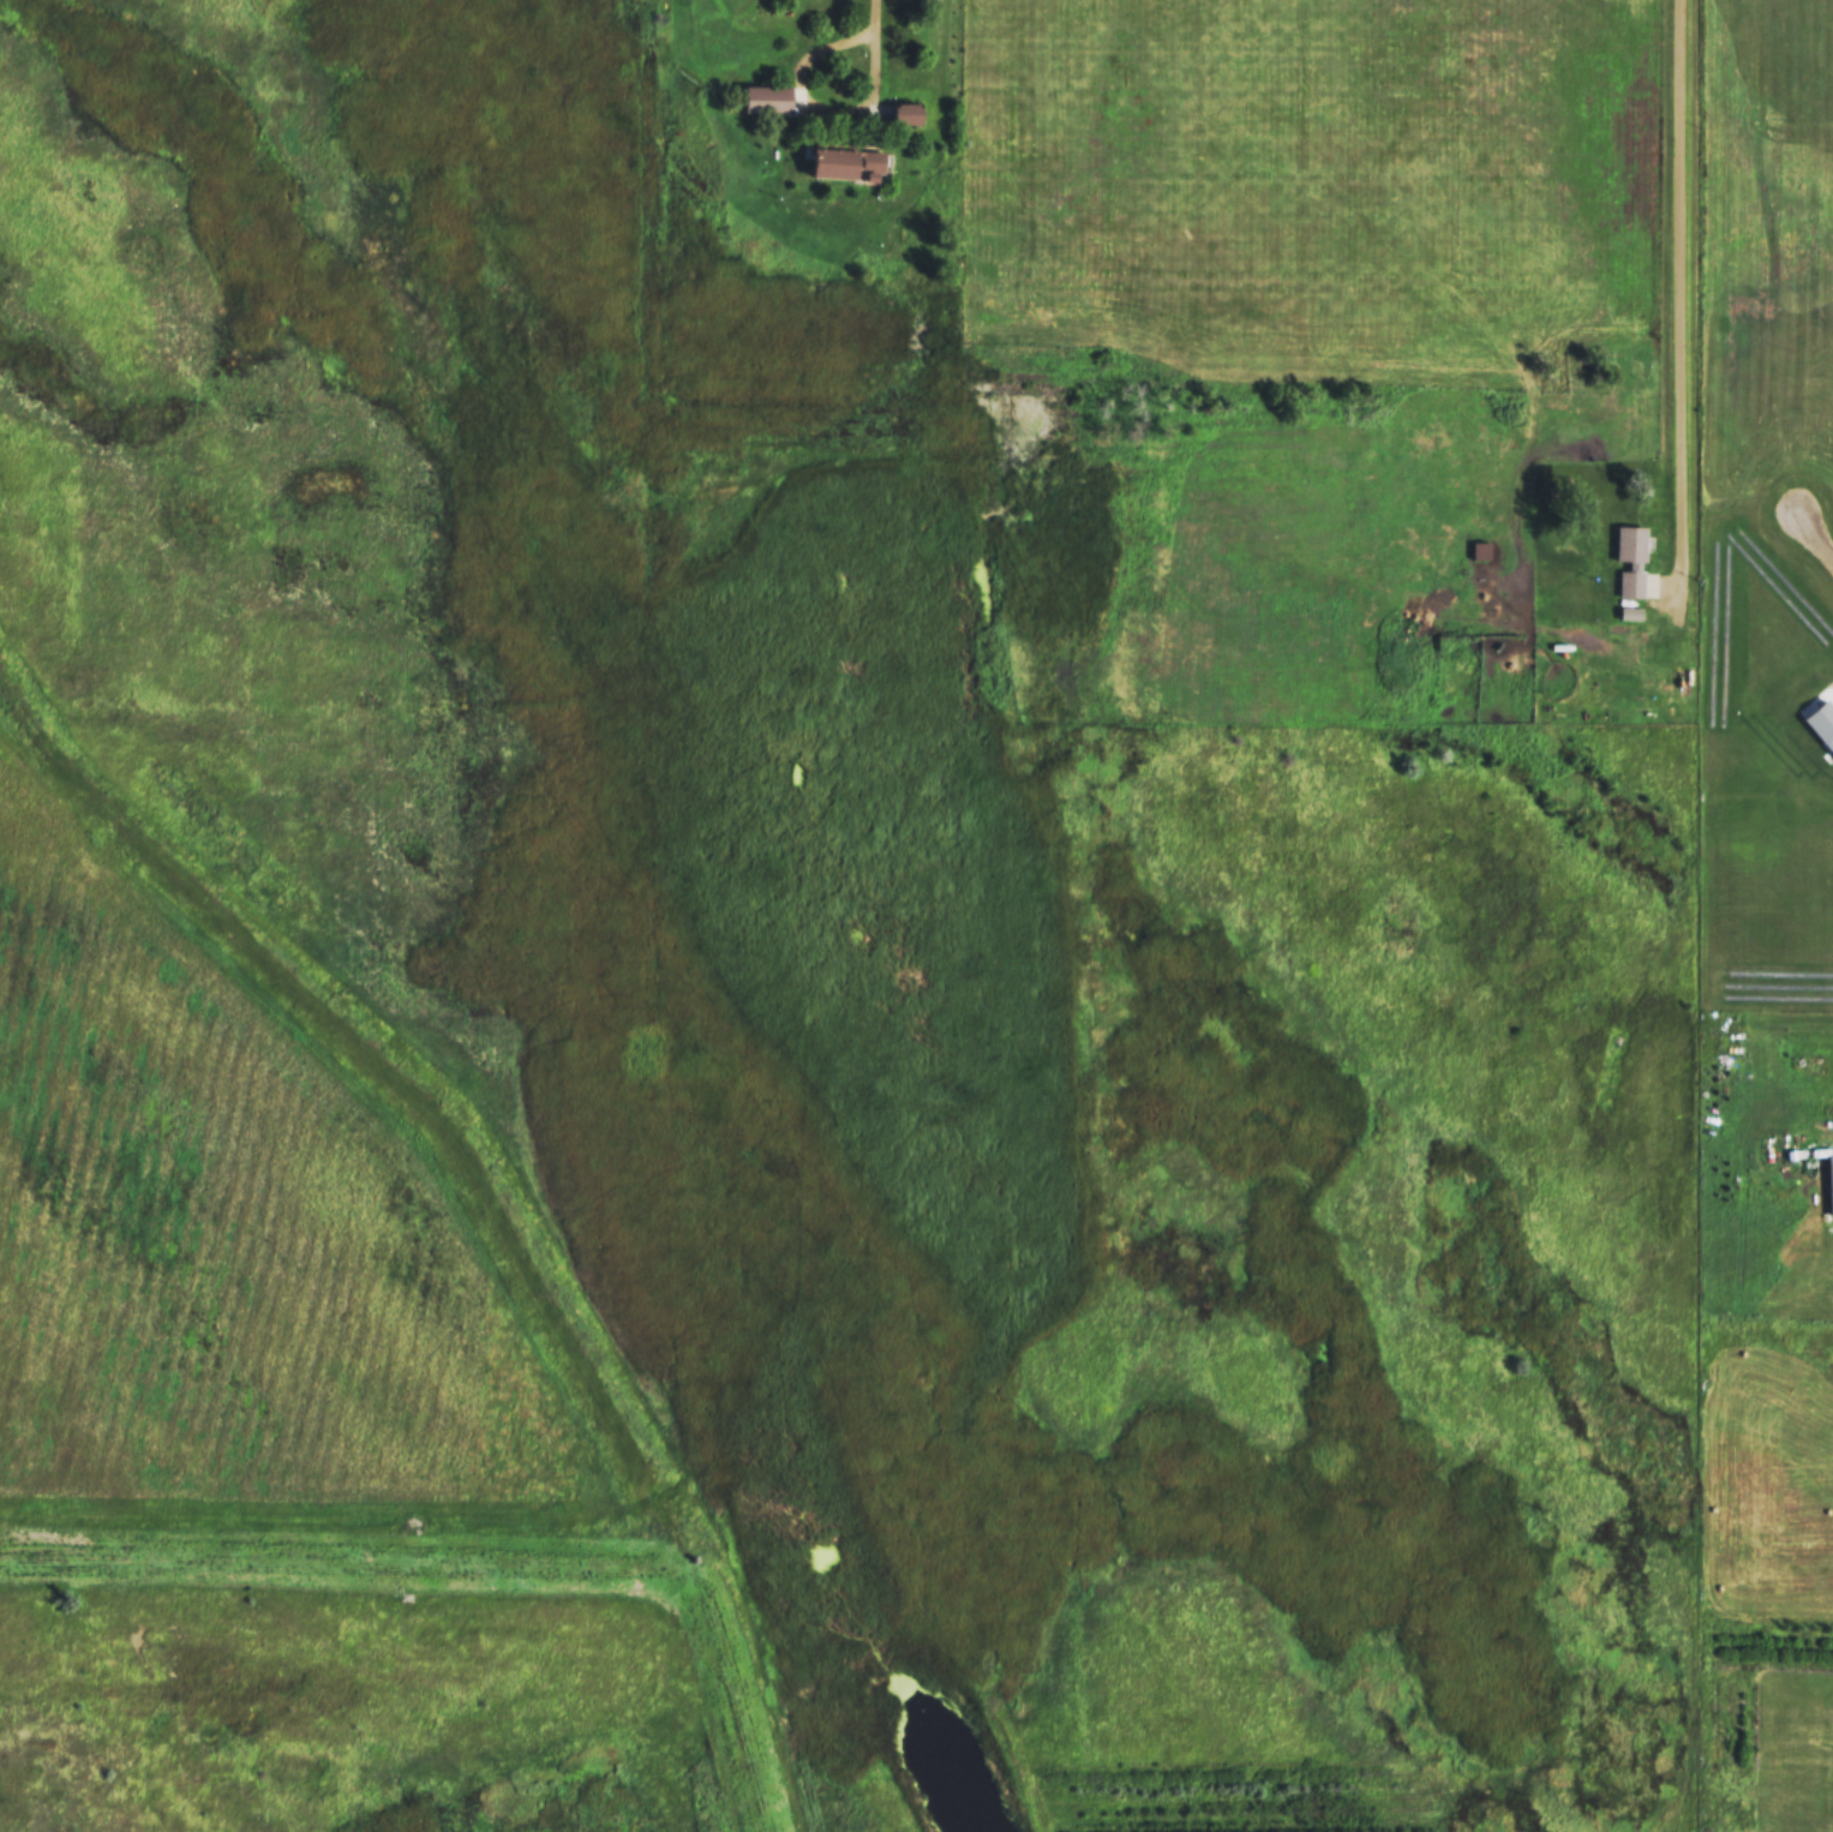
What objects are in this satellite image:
road: (875, 80)
road: (802, 83)
building: (762, 101)
building: (901, 115)
building: (825, 166)
building: (867, 166)
road: (1681, 307)
road: (1815, 541)
building: (1628, 561)
road: (1828, 1133)
building: (1828, 1184)
road: (388, 1563)

